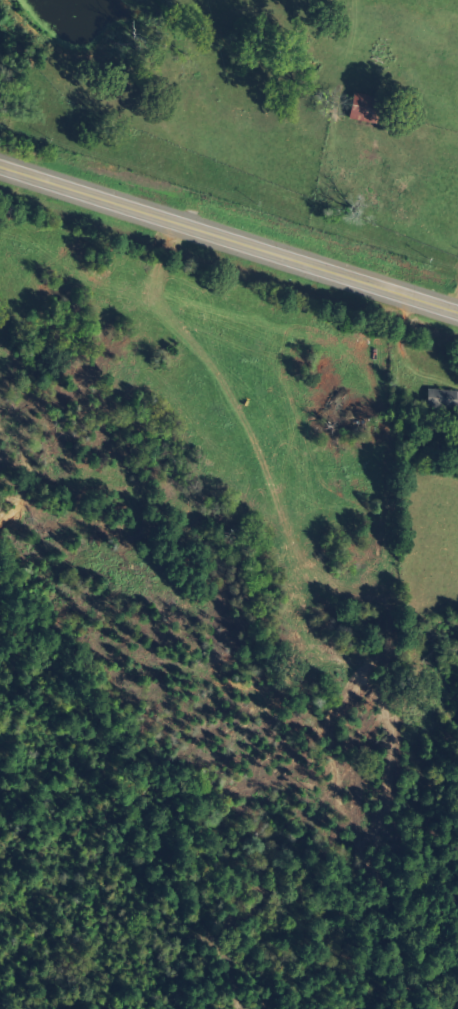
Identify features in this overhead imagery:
building: (360, 108)
road: (229, 226)
building: (436, 399)
road: (418, 956)

